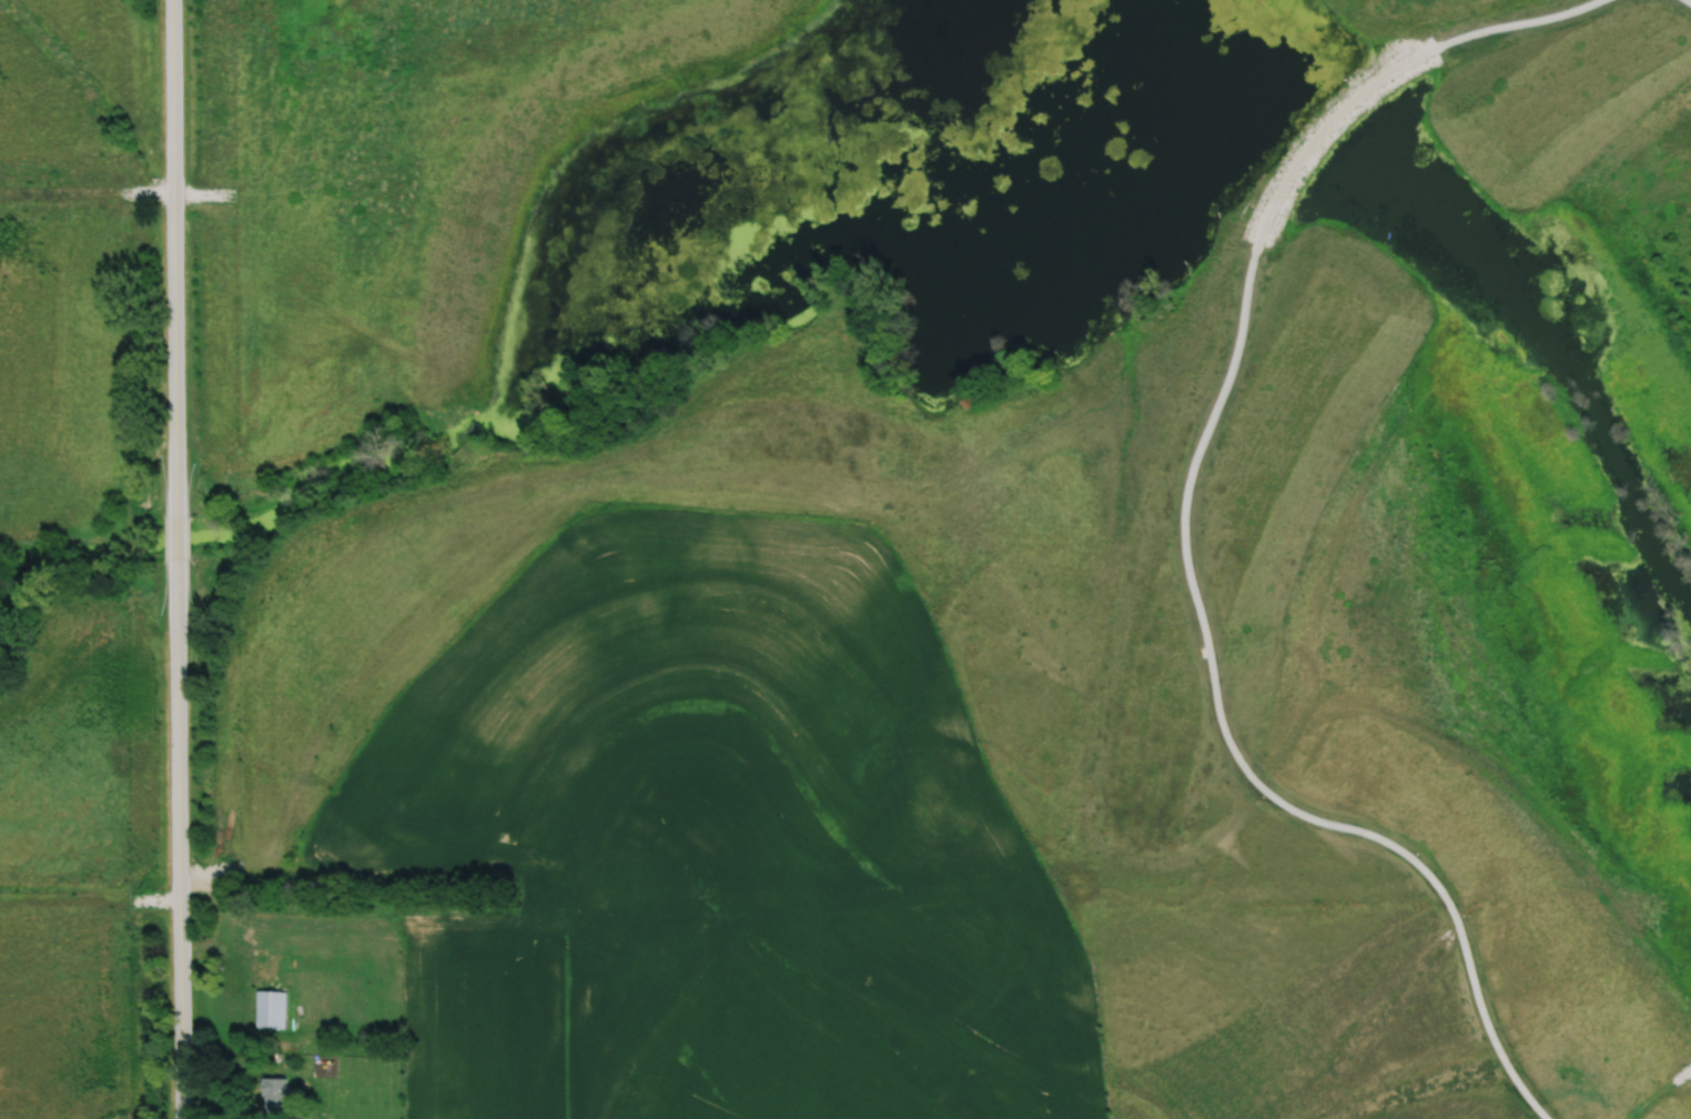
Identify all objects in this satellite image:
road: (1688, 1)
road: (87, 194)
road: (174, 258)
park: (1043, 455)
road: (1185, 528)
road: (179, 536)
road: (180, 838)
building: (292, 947)
building: (355, 975)
building: (269, 1009)
road: (1657, 1092)
building: (274, 1097)

